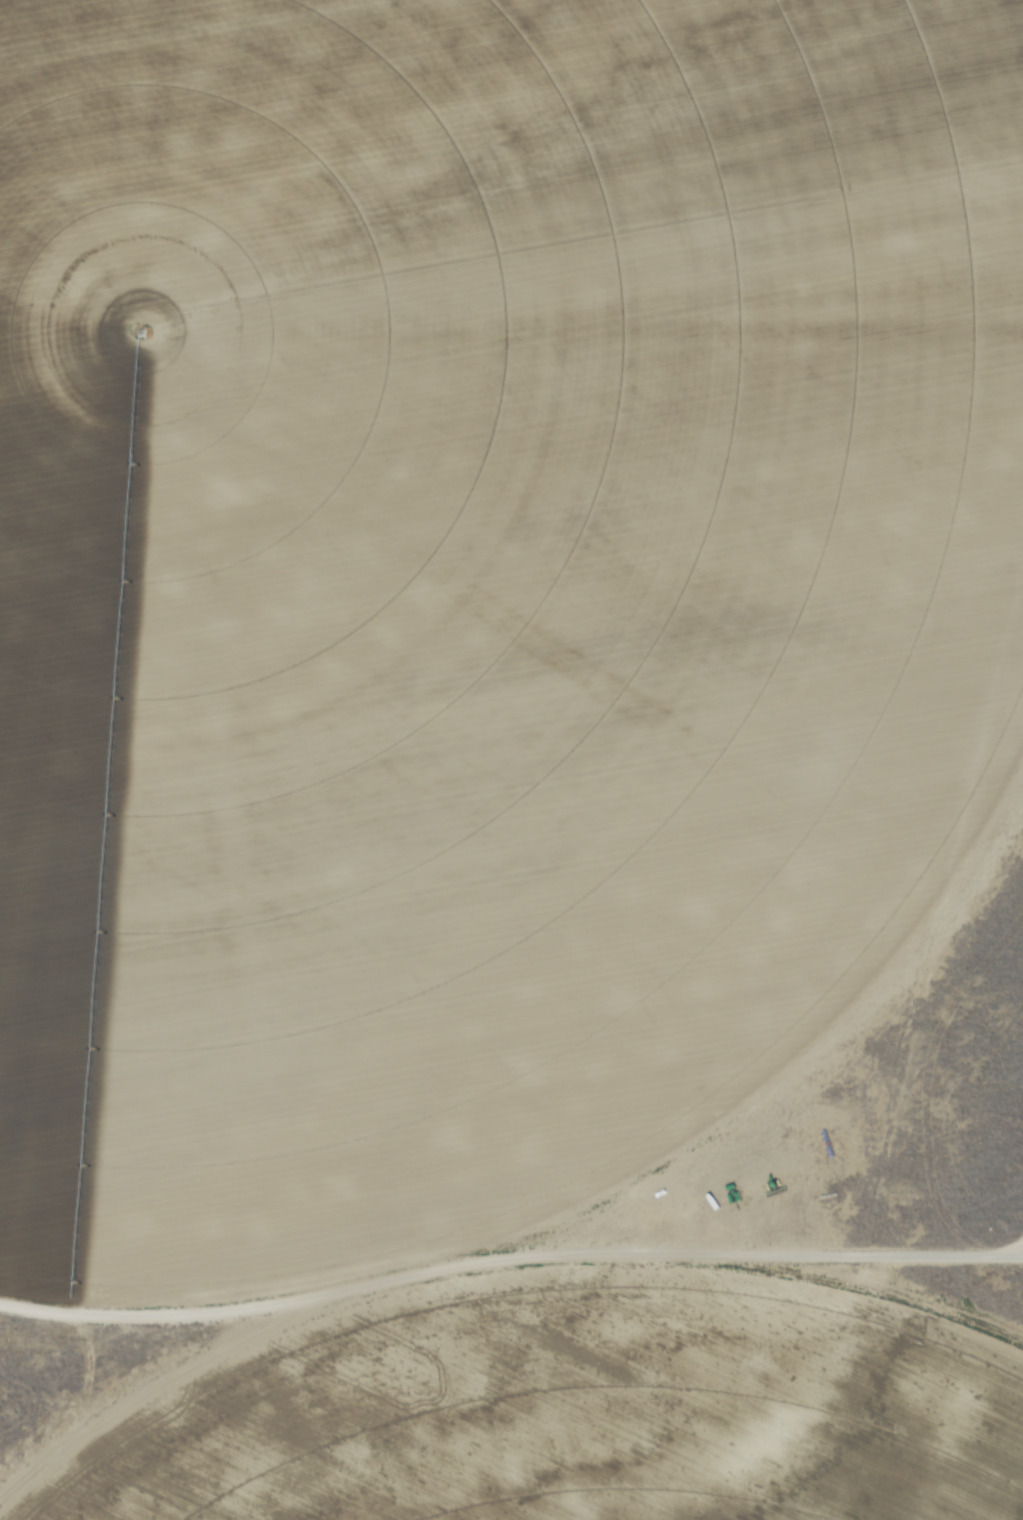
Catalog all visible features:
crop: (471, 574)

